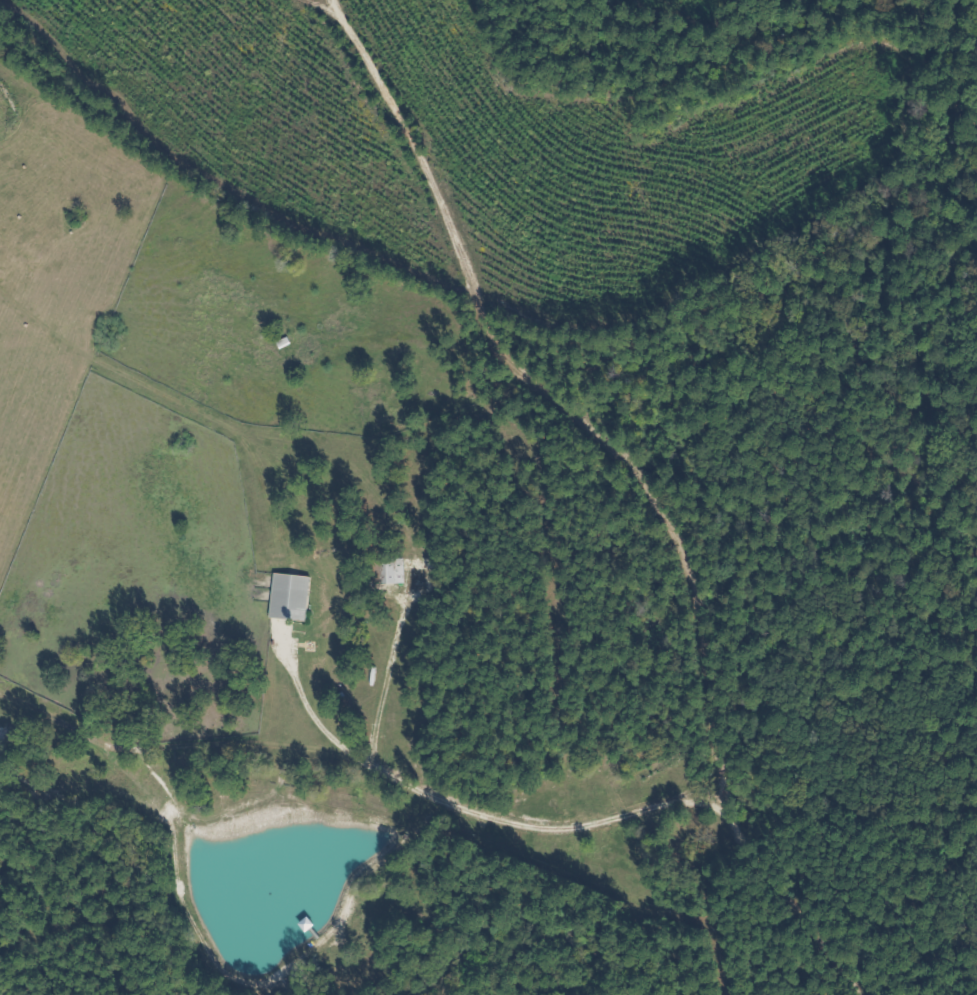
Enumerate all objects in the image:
building: (286, 596)

